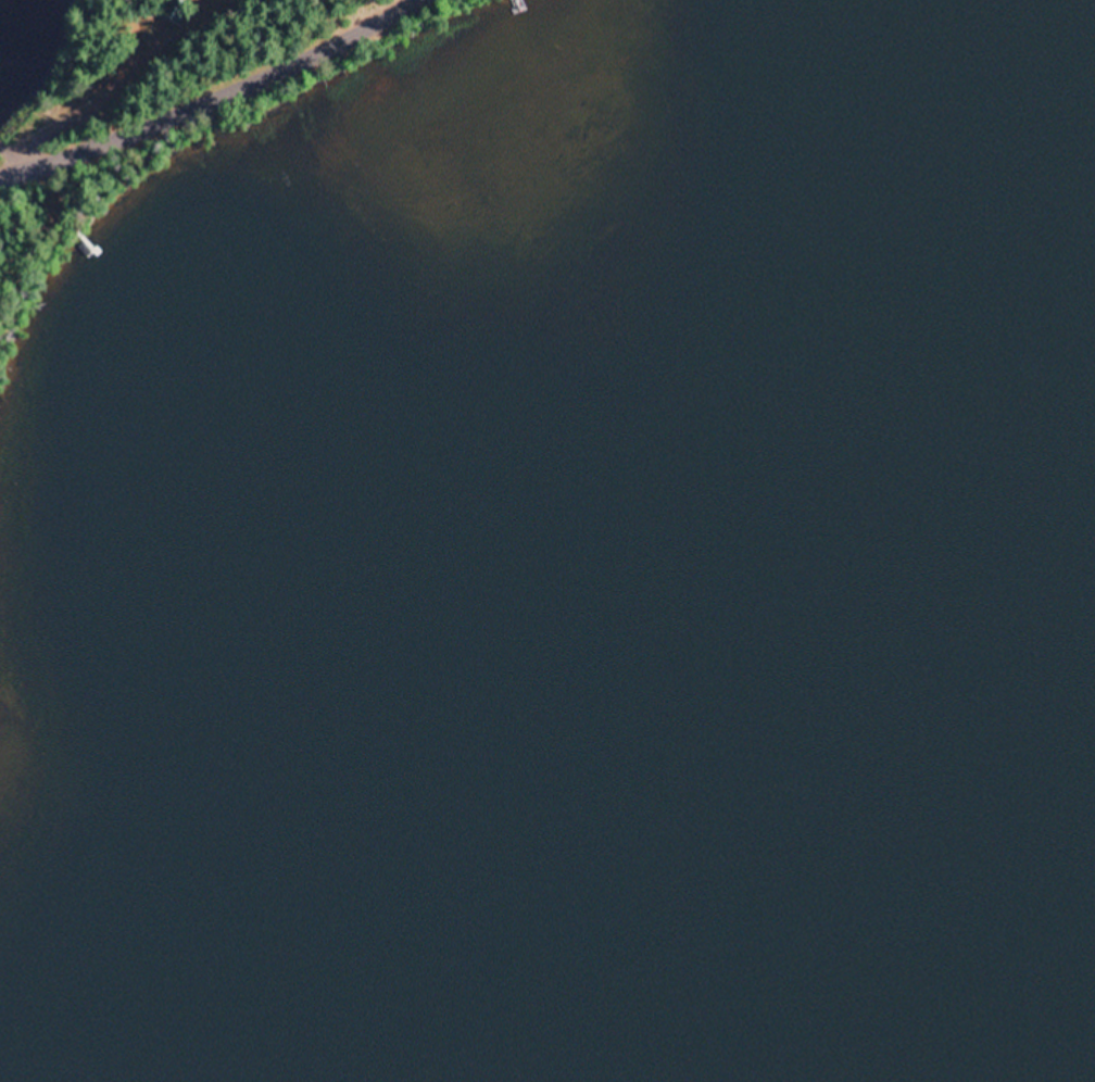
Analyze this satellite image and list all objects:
road: (196, 105)

